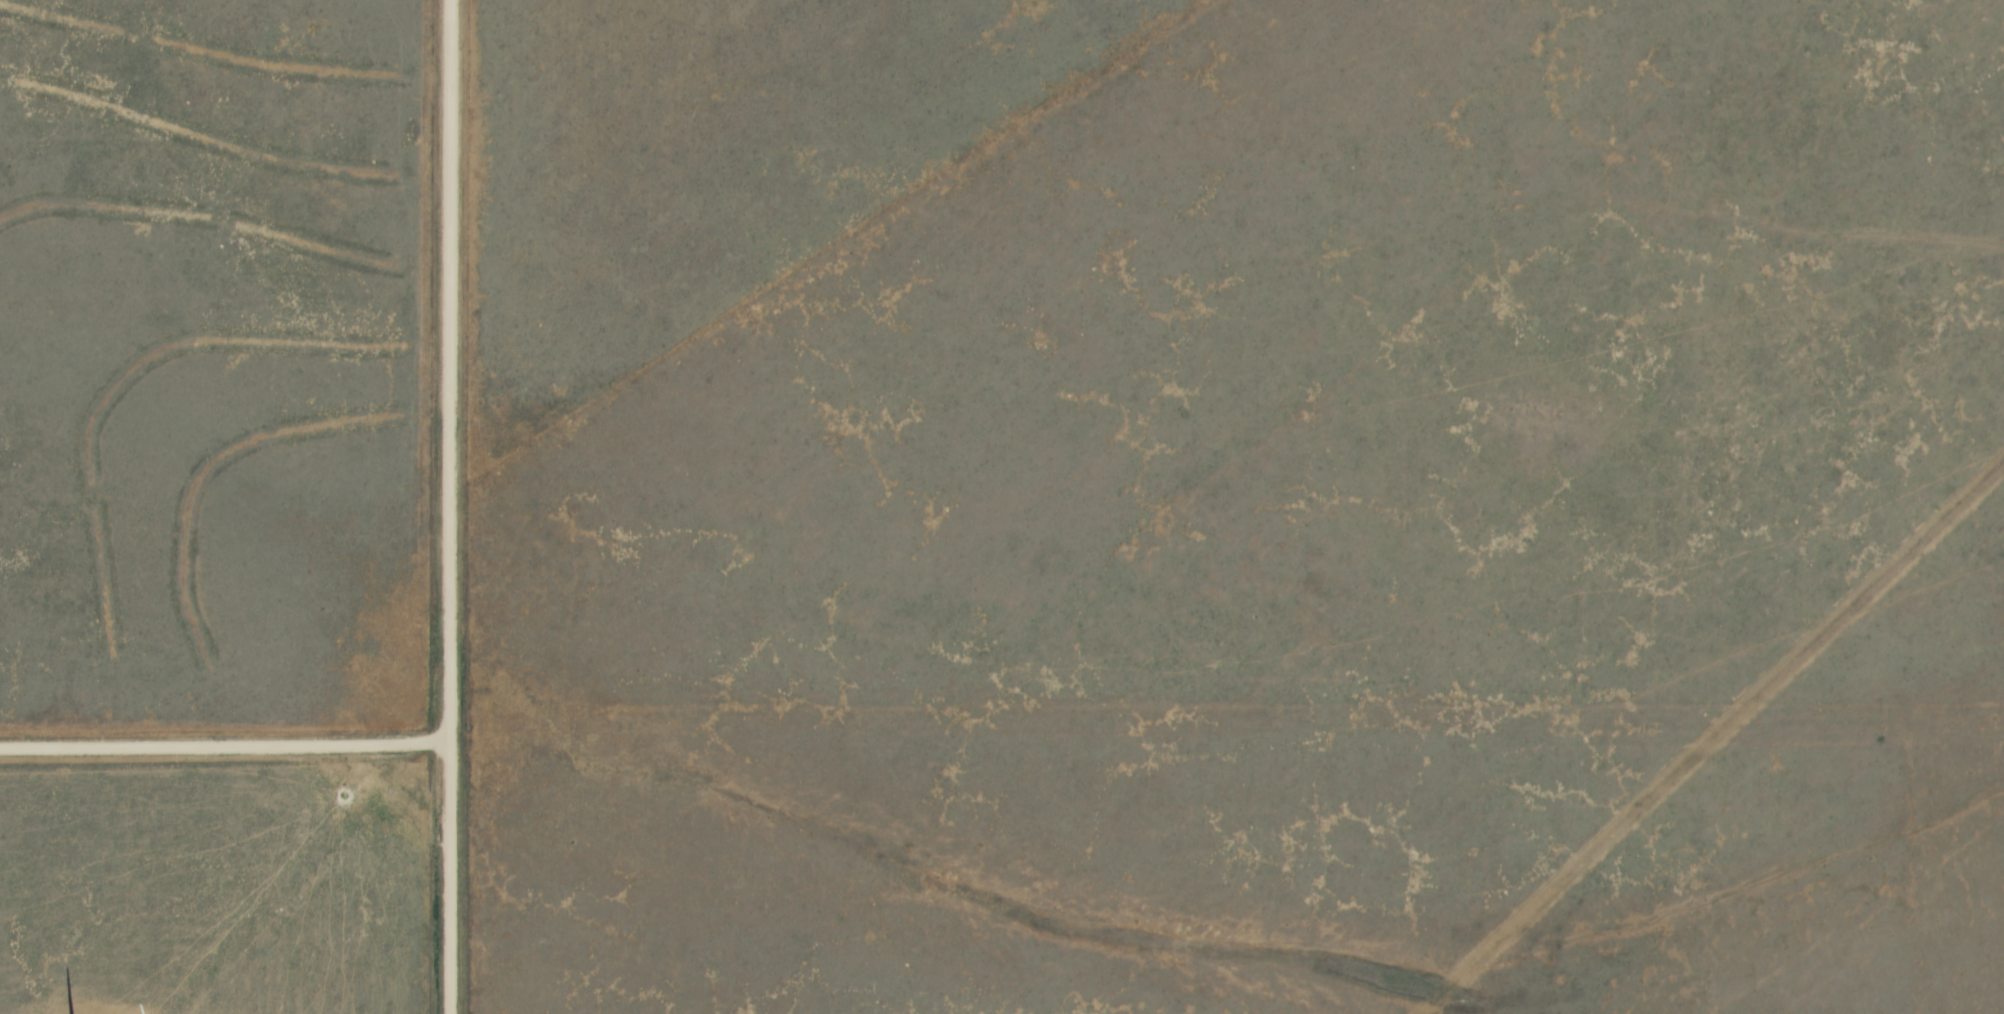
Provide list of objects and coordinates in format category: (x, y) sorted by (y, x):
road: (449, 507)
road: (225, 751)

